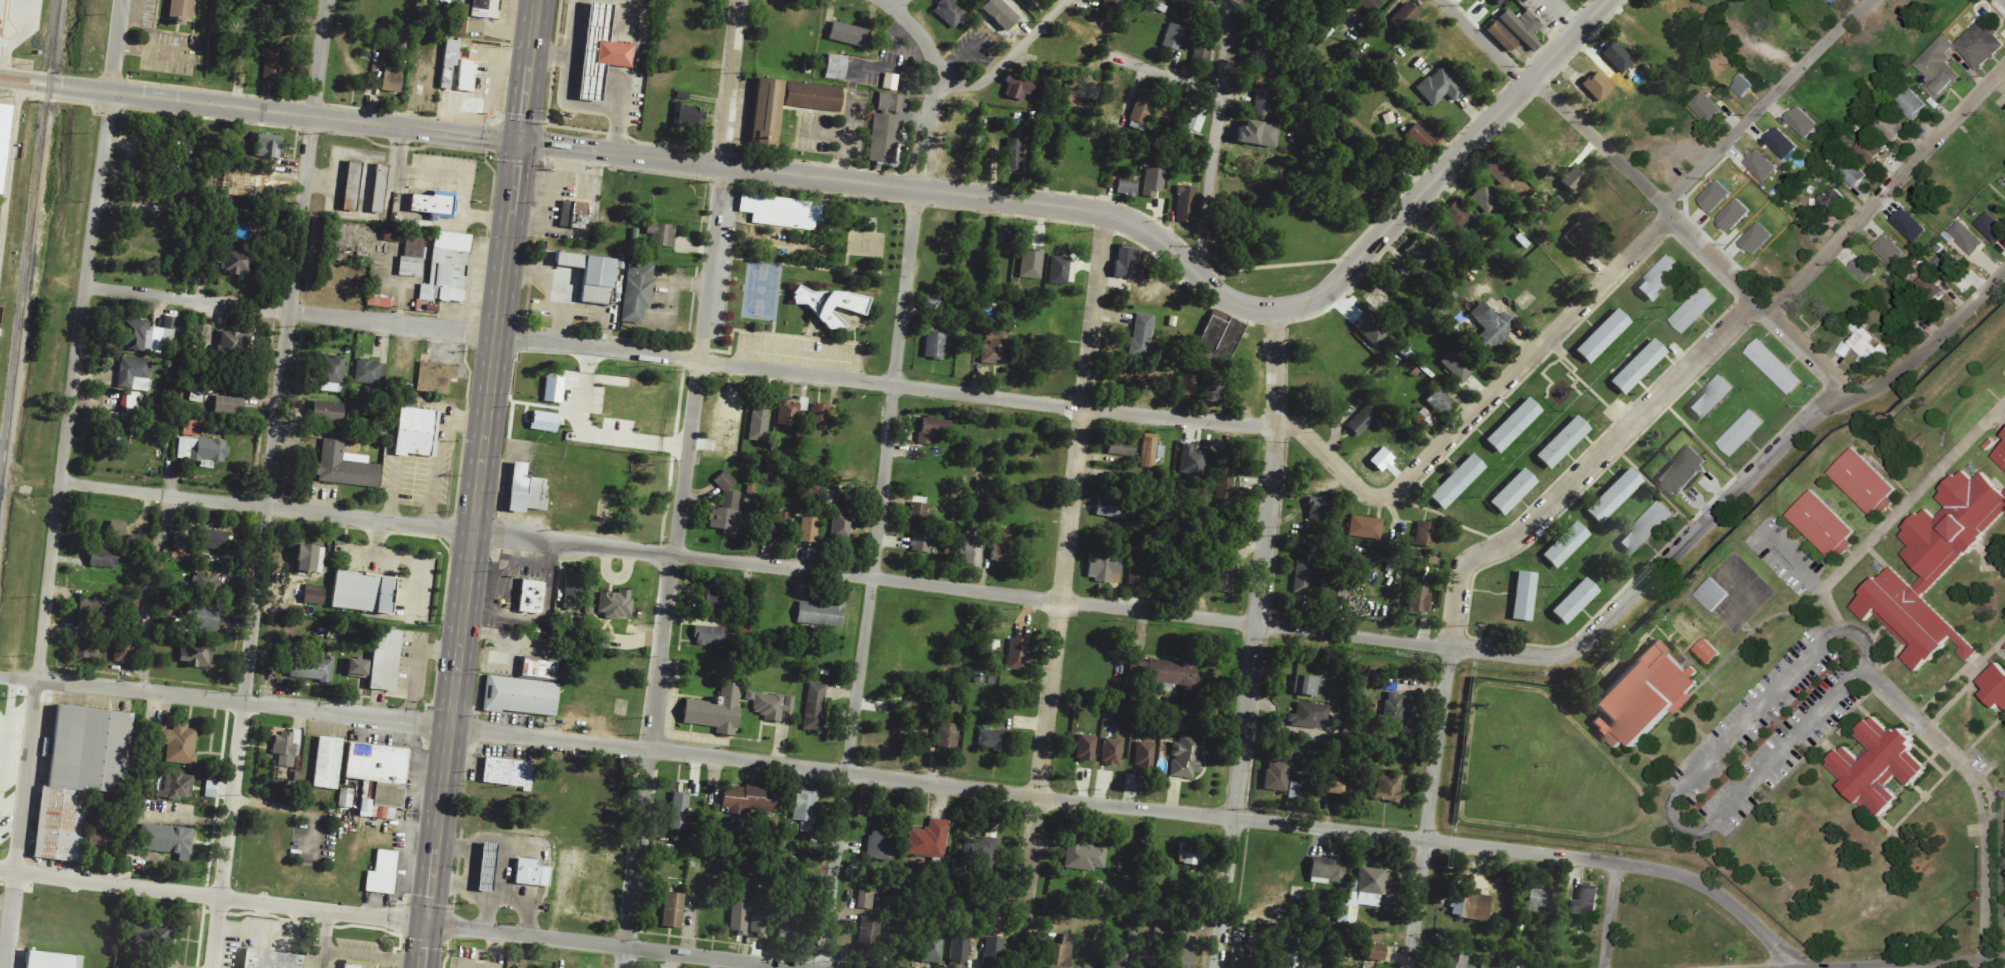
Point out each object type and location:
building: (1035, 0)
building: (445, 1)
building: (1501, 1)
building: (280, 2)
building: (1834, 2)
road: (898, 4)
building: (1113, 5)
building: (1370, 5)
building: (487, 8)
building: (181, 10)
building: (950, 14)
building: (1406, 16)
building: (461, 19)
building: (1523, 28)
road: (915, 31)
building: (849, 35)
building: (1173, 36)
building: (1503, 37)
building: (1982, 45)
building: (602, 52)
building: (1618, 57)
road: (1008, 58)
building: (449, 61)
building: (273, 64)
building: (836, 67)
building: (1939, 69)
road: (527, 70)
road: (1165, 75)
building: (393, 79)
building: (487, 79)
building: (890, 81)
road: (730, 83)
building: (1744, 86)
building: (1018, 87)
building: (1439, 88)
building: (809, 96)
building: (1262, 103)
building: (1912, 104)
building: (1143, 106)
building: (1707, 108)
road: (259, 110)
building: (760, 111)
building: (1167, 111)
building: (687, 113)
building: (1389, 118)
building: (1803, 122)
building: (1890, 125)
building: (3, 129)
building: (886, 129)
building: (1260, 134)
building: (1422, 138)
road: (1215, 140)
traffic signals: (519, 141)
building: (1782, 143)
building: (268, 146)
building: (1872, 150)
road: (620, 154)
building: (1015, 154)
building: (1762, 165)
building: (1501, 171)
building: (1853, 173)
road: (10, 176)
building: (1573, 178)
building: (1154, 181)
building: (1127, 184)
building: (352, 185)
building: (380, 188)
road: (1653, 194)
building: (1717, 195)
building: (1485, 198)
building: (434, 204)
building: (1186, 204)
building: (186, 205)
building: (777, 210)
building: (573, 214)
building: (1736, 214)
building: (1458, 215)
building: (1910, 226)
building: (1992, 227)
building: (1582, 230)
building: (394, 234)
building: (661, 235)
railway: (28, 236)
building: (1967, 237)
building: (1759, 238)
road: (1638, 248)
building: (1890, 249)
building: (1418, 253)
road: (1691, 253)
building: (413, 257)
building: (236, 261)
building: (1127, 263)
building: (1031, 265)
road: (1275, 267)
building: (1866, 267)
building: (448, 269)
building: (1059, 271)
building: (593, 276)
building: (1662, 278)
park: (761, 289)
building: (1930, 289)
building: (637, 292)
road: (1215, 293)
building: (379, 302)
building: (823, 303)
building: (933, 303)
building: (1909, 306)
building: (1696, 309)
road: (1738, 315)
building: (1489, 327)
building: (1372, 329)
building: (149, 336)
building: (1142, 336)
building: (1604, 336)
building: (1219, 340)
building: (232, 342)
building: (935, 345)
building: (1869, 346)
road: (1707, 348)
building: (995, 349)
building: (1845, 349)
building: (1457, 366)
building: (1639, 366)
road: (754, 367)
building: (1777, 367)
building: (370, 373)
building: (134, 374)
building: (333, 374)
building: (435, 378)
building: (1188, 385)
building: (1211, 387)
building: (553, 389)
building: (1714, 398)
building: (1439, 401)
building: (229, 406)
building: (124, 411)
building: (329, 412)
building: (791, 412)
building: (820, 416)
building: (1423, 419)
building: (150, 420)
building: (1363, 420)
building: (544, 422)
building: (759, 425)
building: (1514, 425)
building: (729, 426)
building: (191, 428)
building: (933, 428)
building: (417, 432)
building: (1744, 433)
building: (2004, 434)
road: (1775, 435)
road: (1701, 440)
building: (1563, 442)
building: (1122, 448)
building: (202, 450)
building: (1151, 451)
building: (1999, 455)
building: (1383, 460)
building: (1192, 462)
building: (346, 466)
building: (1684, 471)
building: (1458, 482)
building: (1866, 482)
road: (58, 483)
road: (268, 483)
road: (1655, 486)
building: (526, 490)
building: (1226, 490)
building: (1514, 492)
road: (1912, 495)
building: (1615, 496)
building: (1113, 507)
building: (727, 508)
building: (919, 509)
building: (1318, 509)
road: (1444, 517)
road: (878, 518)
building: (778, 525)
building: (841, 525)
building: (1824, 525)
building: (1366, 528)
building: (1648, 528)
building: (118, 529)
building: (809, 530)
building: (1427, 534)
building: (182, 538)
building: (213, 540)
building: (921, 543)
building: (1566, 545)
building: (1001, 547)
building: (966, 549)
road: (469, 554)
building: (105, 558)
building: (311, 559)
building: (1930, 565)
building: (1103, 566)
road: (671, 567)
road: (1809, 576)
building: (1138, 577)
building: (1223, 577)
building: (1302, 577)
building: (206, 583)
building: (573, 591)
road: (1062, 592)
building: (364, 593)
building: (1713, 594)
building: (314, 595)
building: (531, 595)
building: (1525, 596)
building: (1417, 599)
building: (712, 600)
building: (1576, 601)
building: (133, 604)
building: (616, 604)
building: (92, 606)
road: (1106, 606)
building: (820, 614)
building: (205, 618)
building: (742, 628)
building: (1686, 628)
building: (712, 636)
road: (1256, 639)
building: (602, 640)
building: (84, 647)
building: (122, 650)
building: (1709, 651)
road: (1990, 651)
building: (1017, 654)
building: (195, 655)
building: (386, 660)
road: (1975, 666)
building: (312, 668)
building: (358, 668)
building: (1177, 674)
building: (1996, 685)
building: (1306, 686)
building: (518, 695)
building: (1645, 697)
building: (771, 706)
building: (815, 708)
building: (1396, 708)
building: (714, 710)
building: (1309, 716)
road: (1919, 721)
parking lot: (1766, 733)
building: (948, 737)
building: (995, 740)
building: (178, 744)
road: (1466, 744)
building: (286, 748)
building: (1086, 749)
building: (1112, 752)
building: (1145, 755)
building: (1186, 757)
building: (328, 763)
building: (1882, 766)
building: (77, 773)
building: (508, 773)
building: (1277, 776)
building: (379, 777)
road: (917, 781)
building: (177, 787)
building: (1334, 788)
building: (1388, 788)
building: (1294, 790)
road: (1675, 792)
road: (1988, 794)
road: (1979, 797)
building: (346, 798)
building: (751, 800)
road: (1430, 807)
building: (805, 810)
building: (679, 812)
building: (102, 834)
building: (167, 840)
building: (929, 840)
building: (880, 845)
building: (981, 850)
building: (1190, 856)
building: (1085, 857)
building: (485, 866)
building: (380, 871)
building: (530, 871)
building: (1328, 871)
road: (1986, 887)
building: (1364, 894)
parking lot: (1, 898)
road: (213, 898)
building: (865, 899)
building: (1540, 900)
building: (1587, 901)
building: (1471, 907)
building: (673, 911)
road: (1610, 916)
building: (739, 918)
building: (759, 918)
traffic signals: (427, 926)
building: (790, 926)
building: (869, 933)
building: (1181, 935)
building: (153, 937)
building: (1160, 938)
road: (324, 940)
road: (612, 945)
building: (932, 948)
building: (960, 951)
building: (994, 952)
building: (1062, 953)
building: (1376, 953)
building: (1287, 954)
road: (373, 957)
building: (51, 958)
building: (1180, 958)
building: (268, 959)
building: (1115, 960)
building: (1458, 961)
building: (1249, 962)
building: (1145, 963)
building: (359, 964)
road: (1917, 964)
building: (1316, 966)

